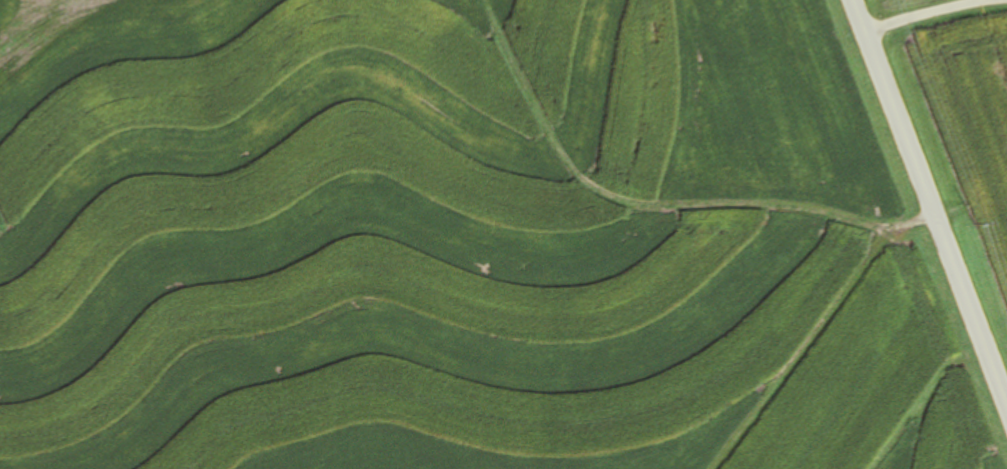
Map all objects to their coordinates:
road: (928, 13)
road: (929, 204)

